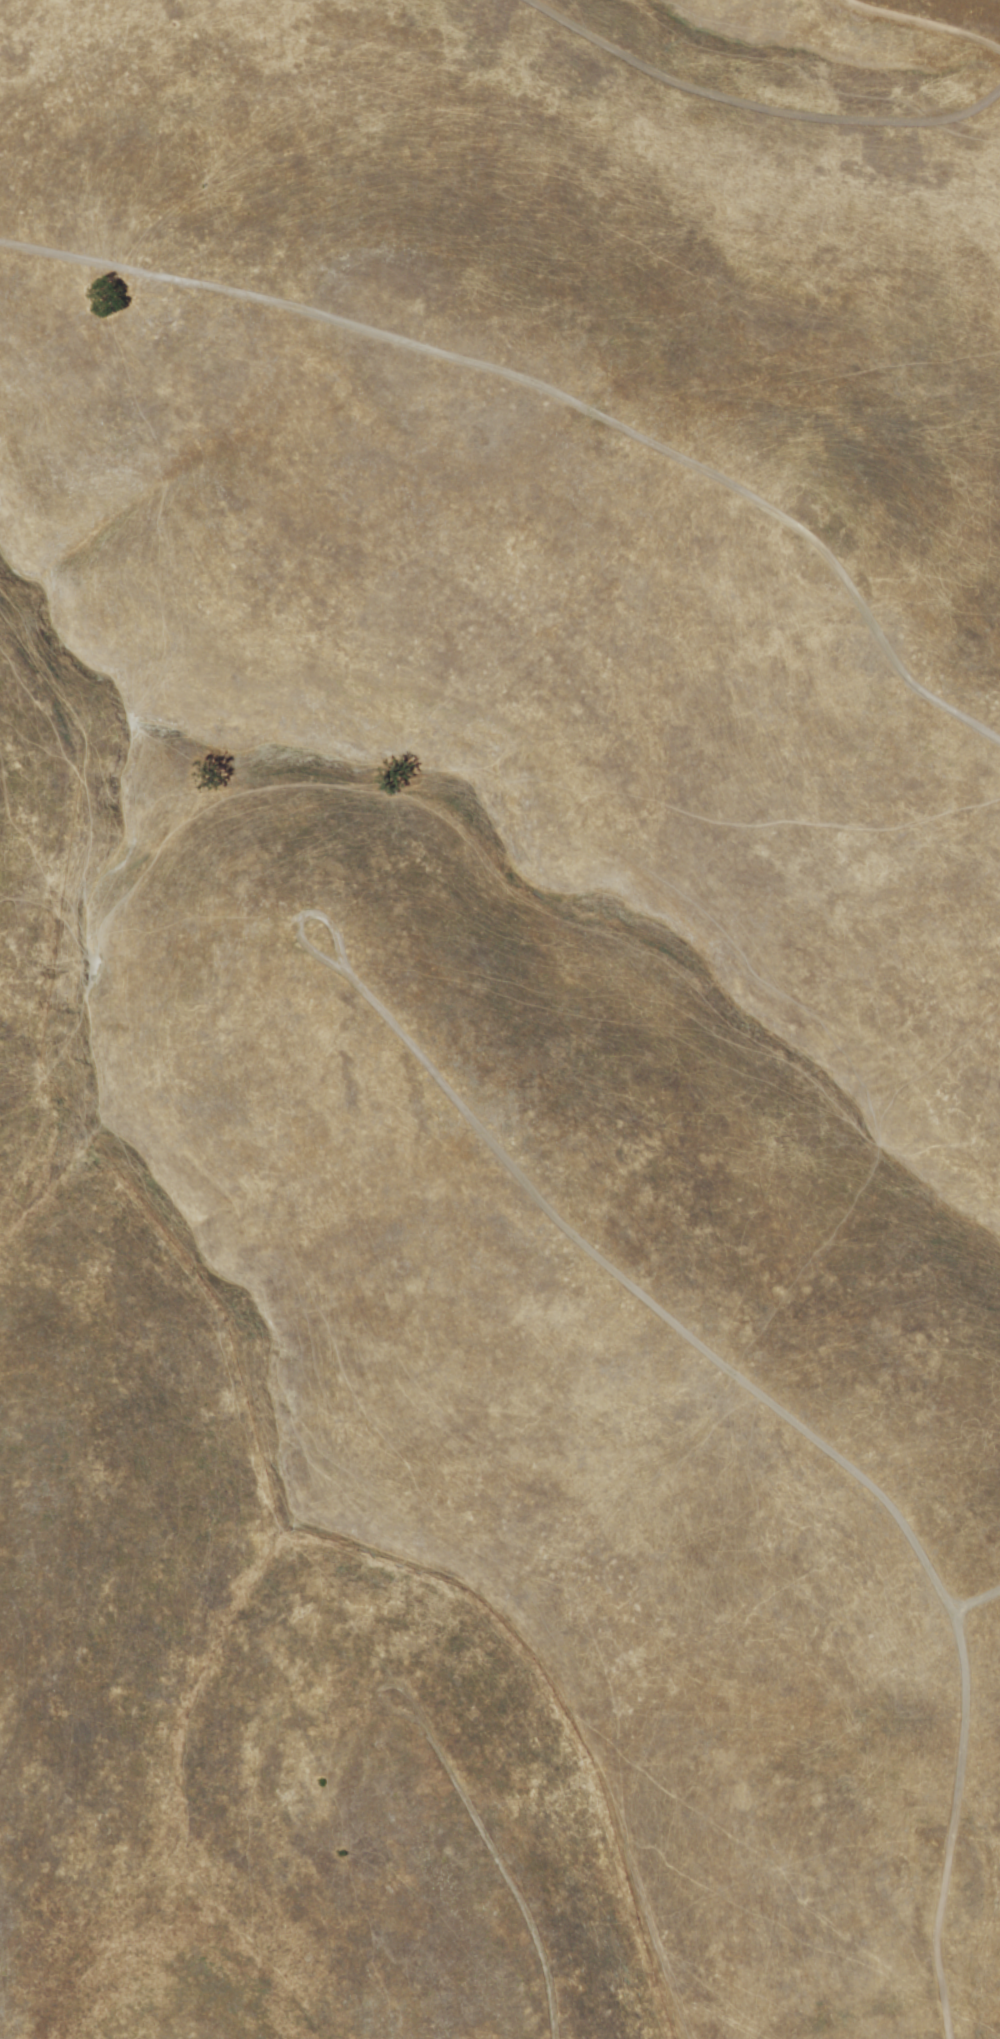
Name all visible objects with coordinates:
road: (922, 22)
road: (753, 109)
road: (555, 393)
road: (305, 919)
road: (811, 1432)
road: (978, 1603)
road: (379, 1686)
road: (508, 1875)

